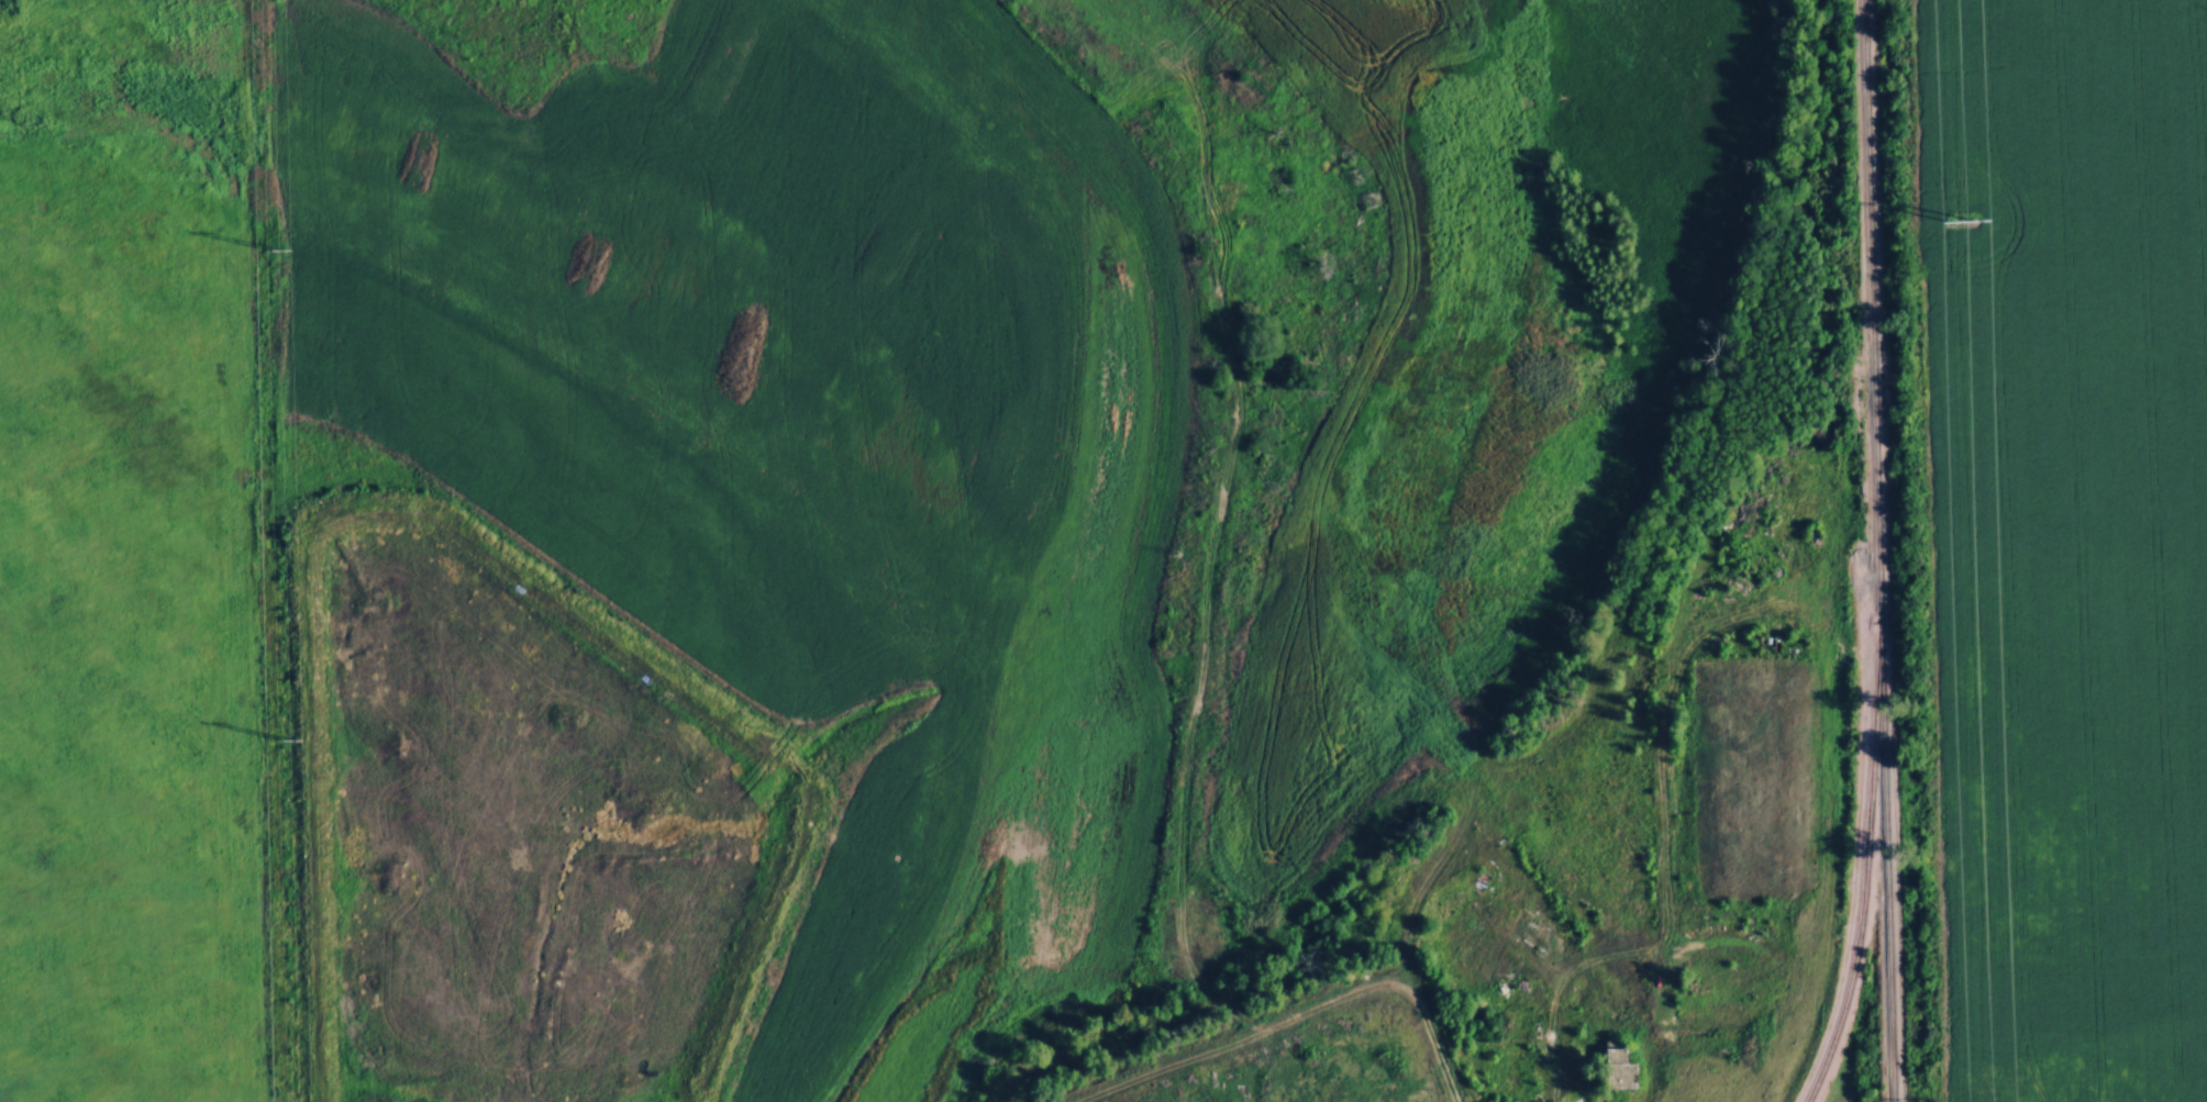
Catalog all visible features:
power tower: (1961, 218)
power tower: (288, 245)
railway: (1867, 316)
power tower: (299, 731)
railway: (1892, 867)
railway: (1866, 872)
building: (1616, 1066)
road: (1554, 1068)
building: (1716, 1071)

